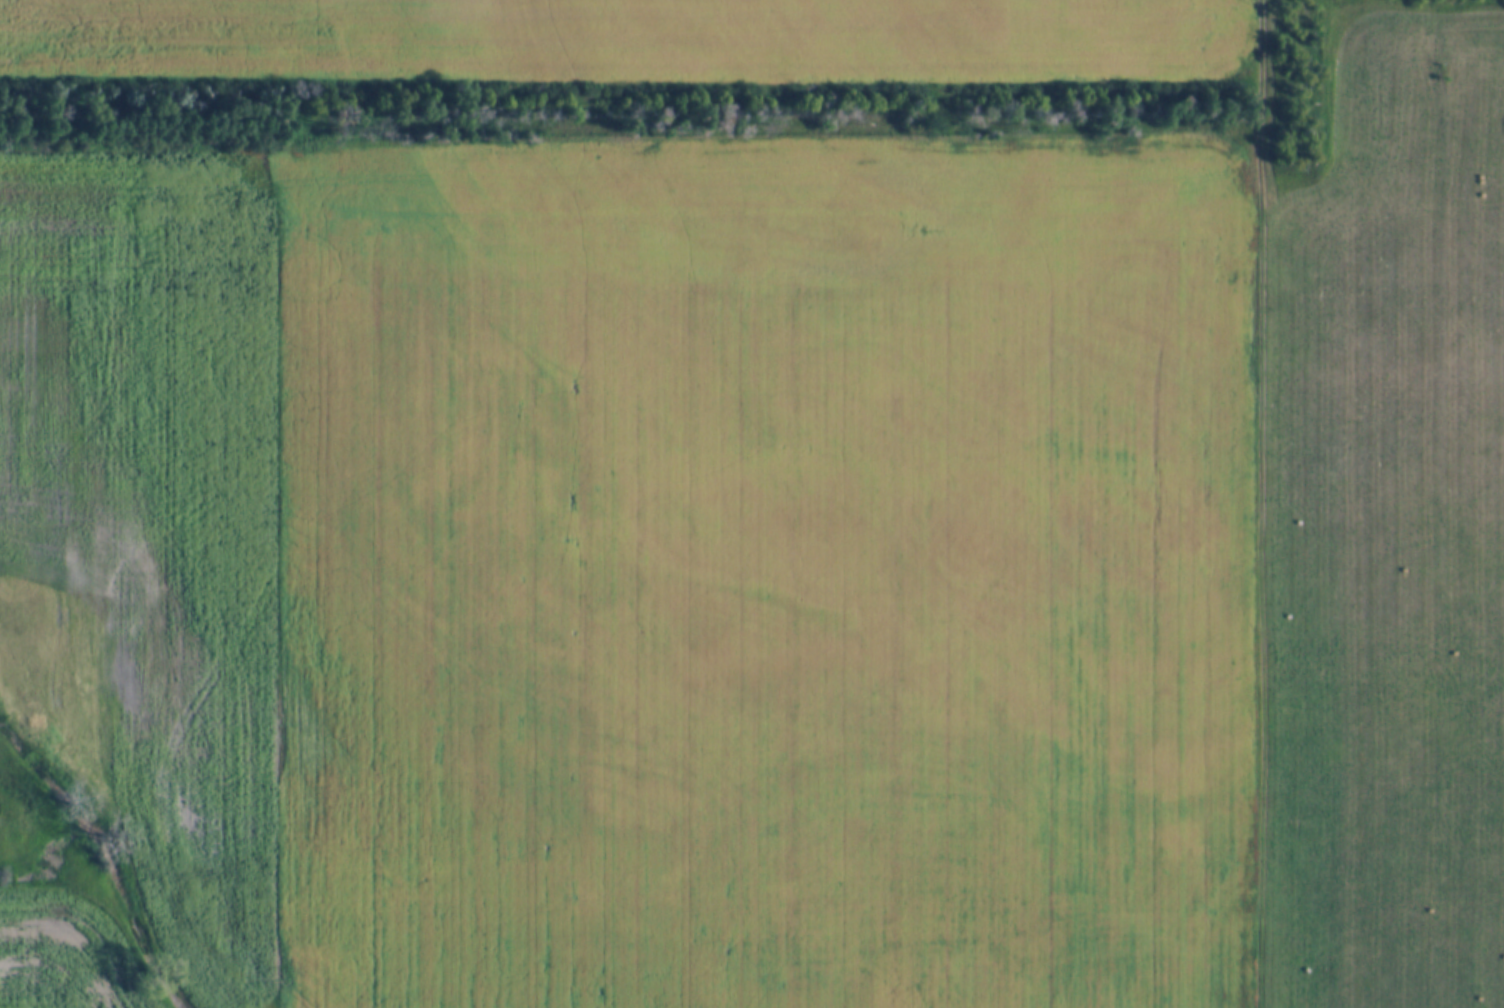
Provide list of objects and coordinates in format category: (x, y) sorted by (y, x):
road: (1253, 503)

